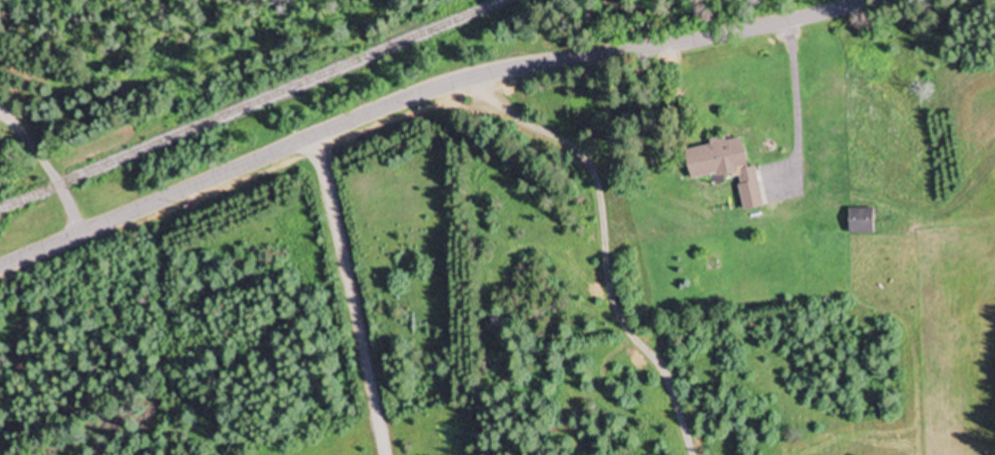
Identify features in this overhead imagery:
road: (395, 103)
railway: (252, 104)
road: (47, 168)
building: (726, 168)
building: (861, 221)

